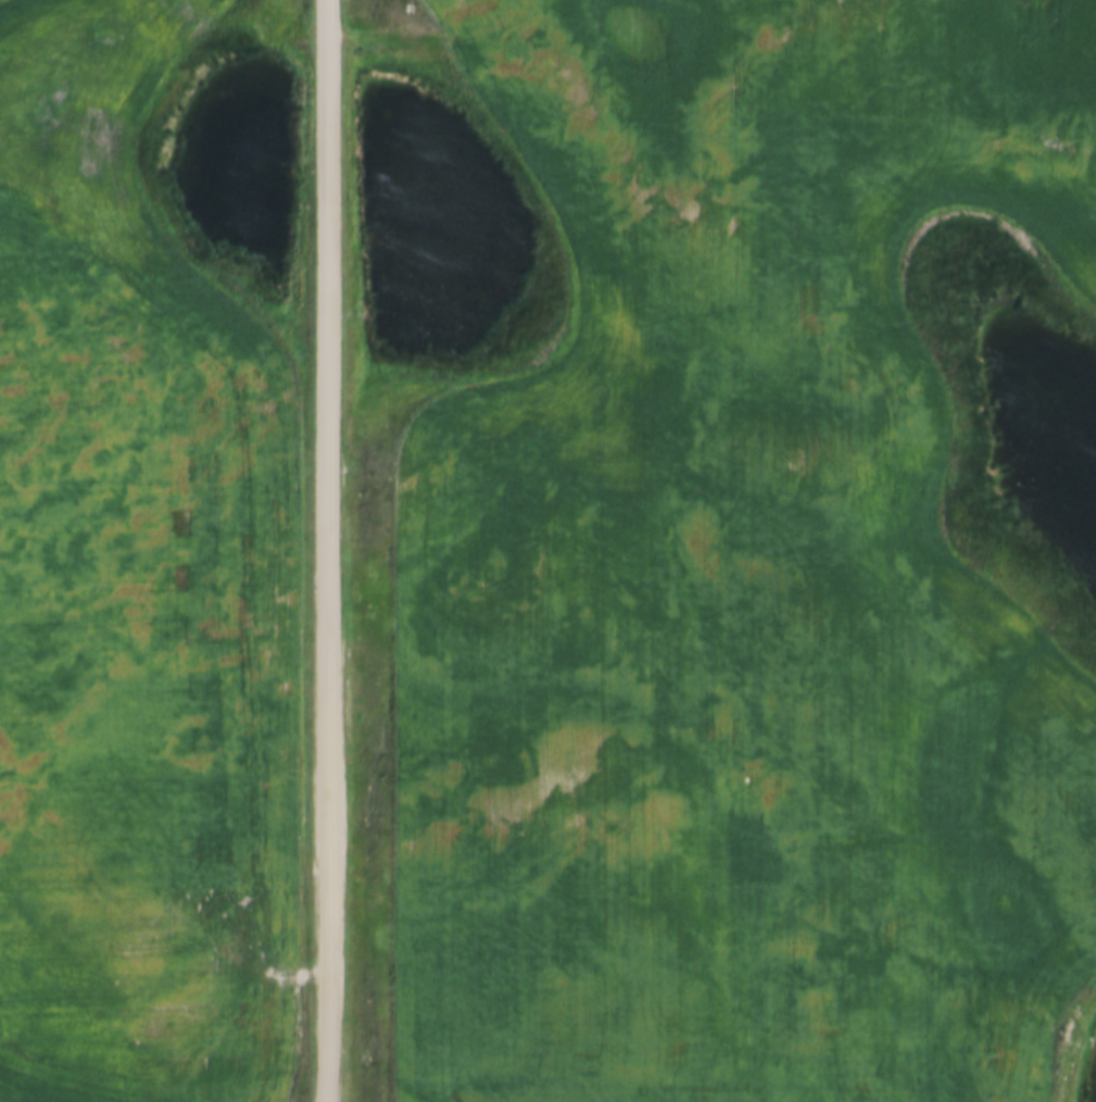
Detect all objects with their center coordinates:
road: (328, 551)

